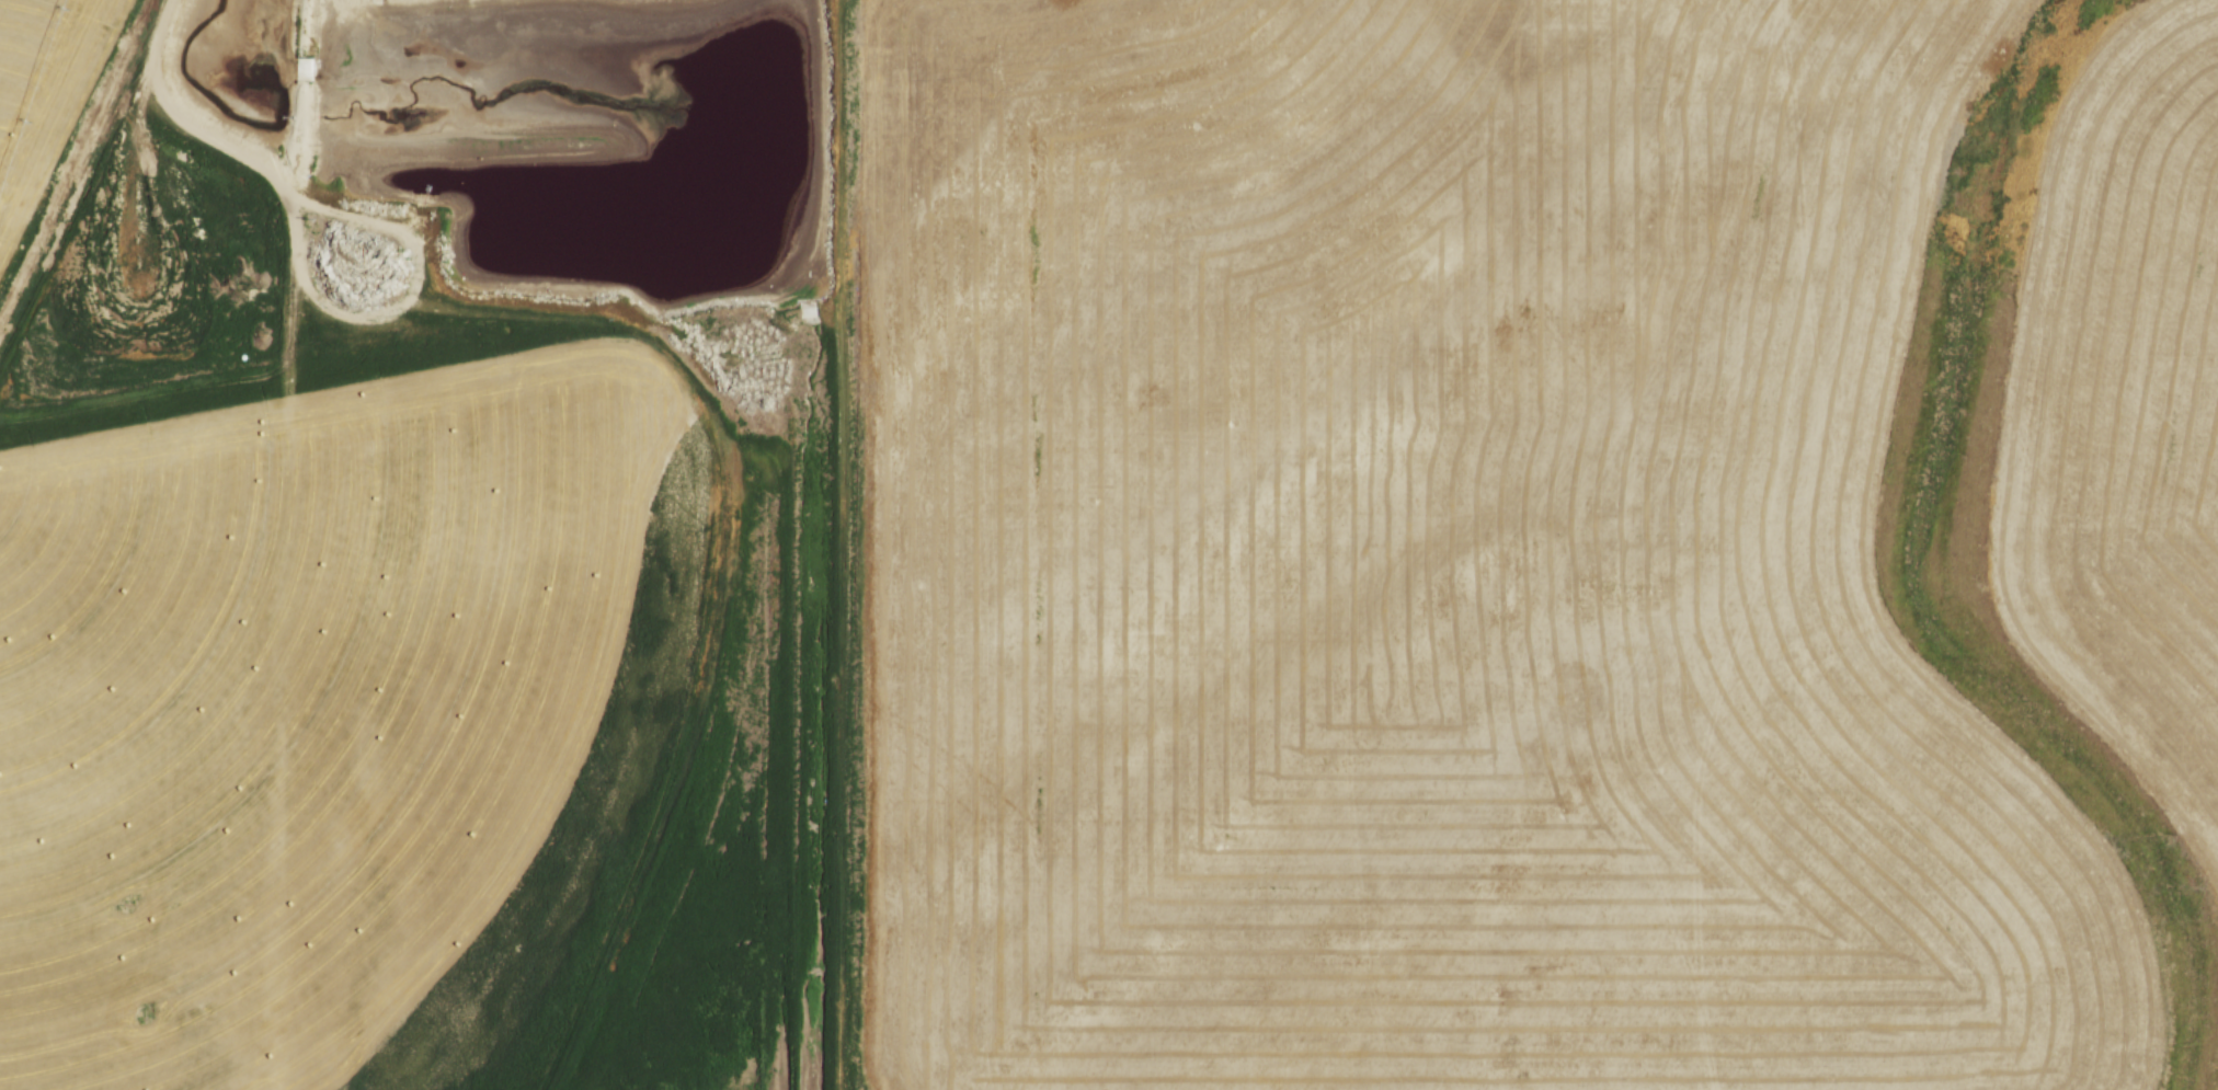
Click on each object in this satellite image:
road: (176, 121)
crop: (52, 122)
road: (402, 306)
crop: (2123, 415)
crop: (1432, 575)
crop: (340, 714)

